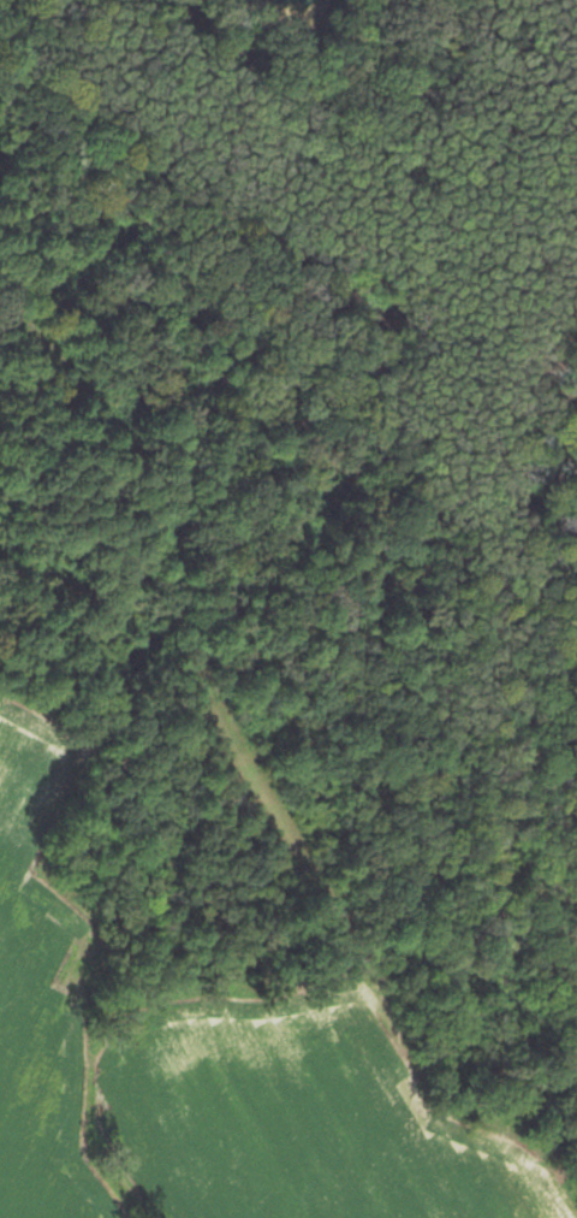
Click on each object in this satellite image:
road: (209, 599)

